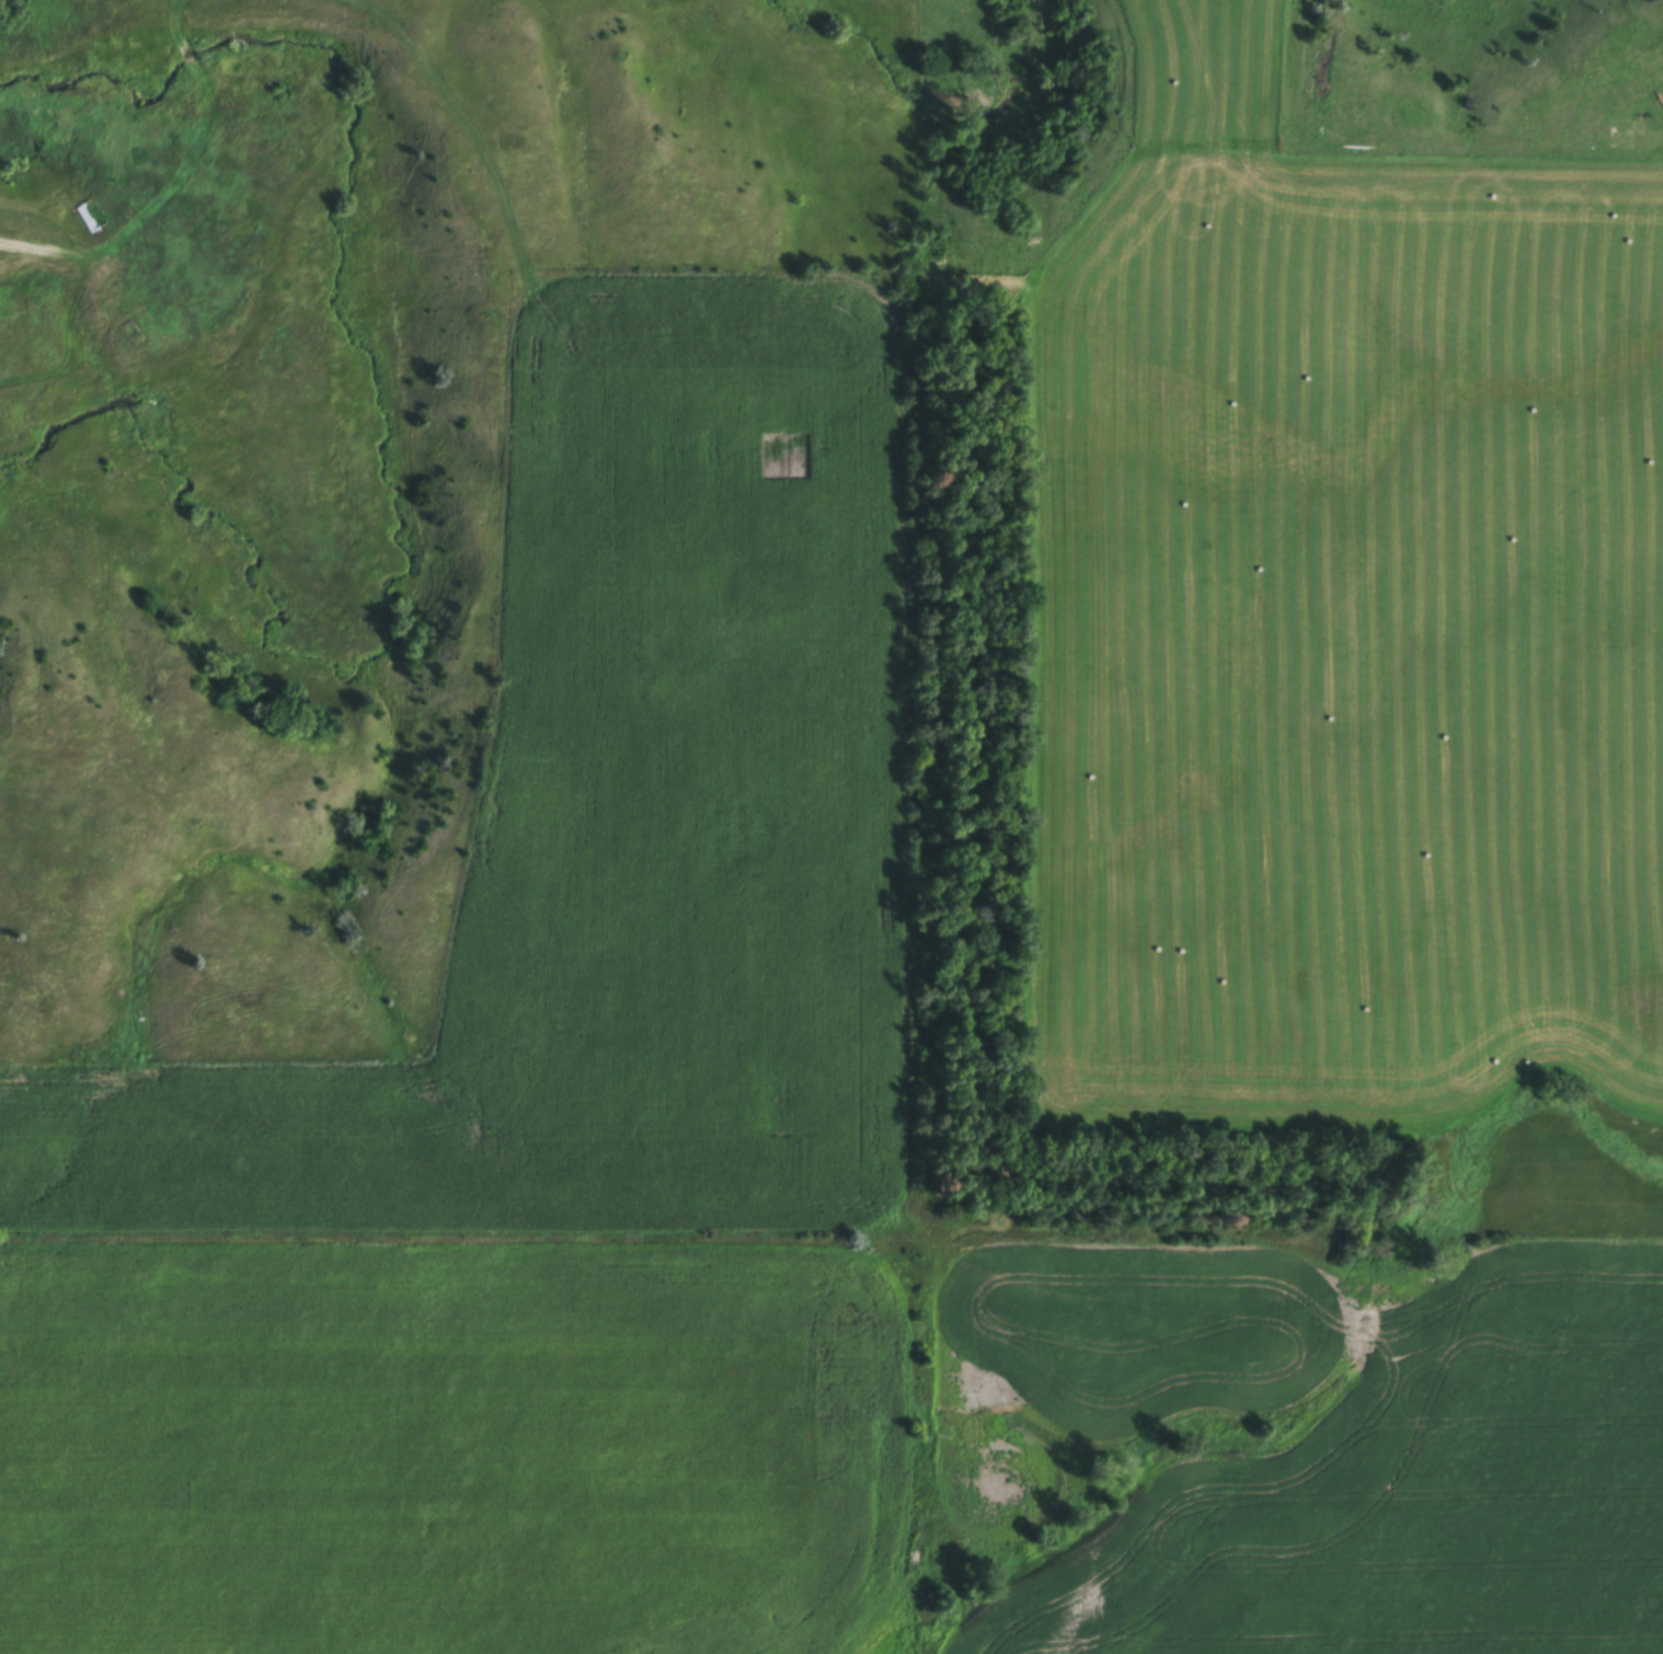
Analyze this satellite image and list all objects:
building: (87, 220)

